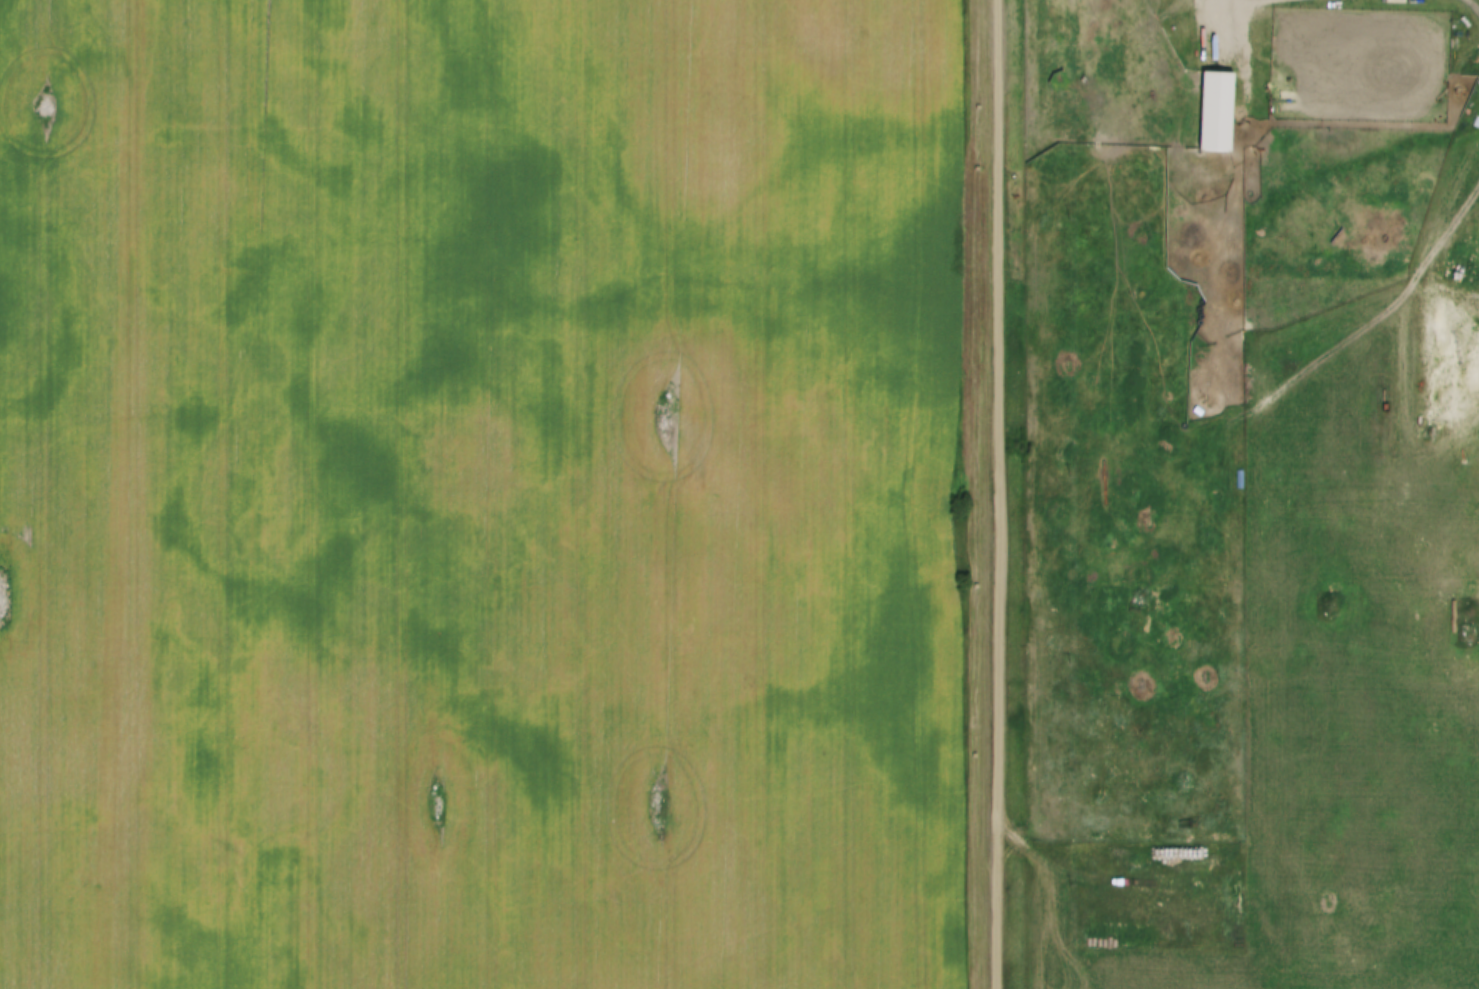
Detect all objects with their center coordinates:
building: (1220, 113)
road: (1003, 494)

